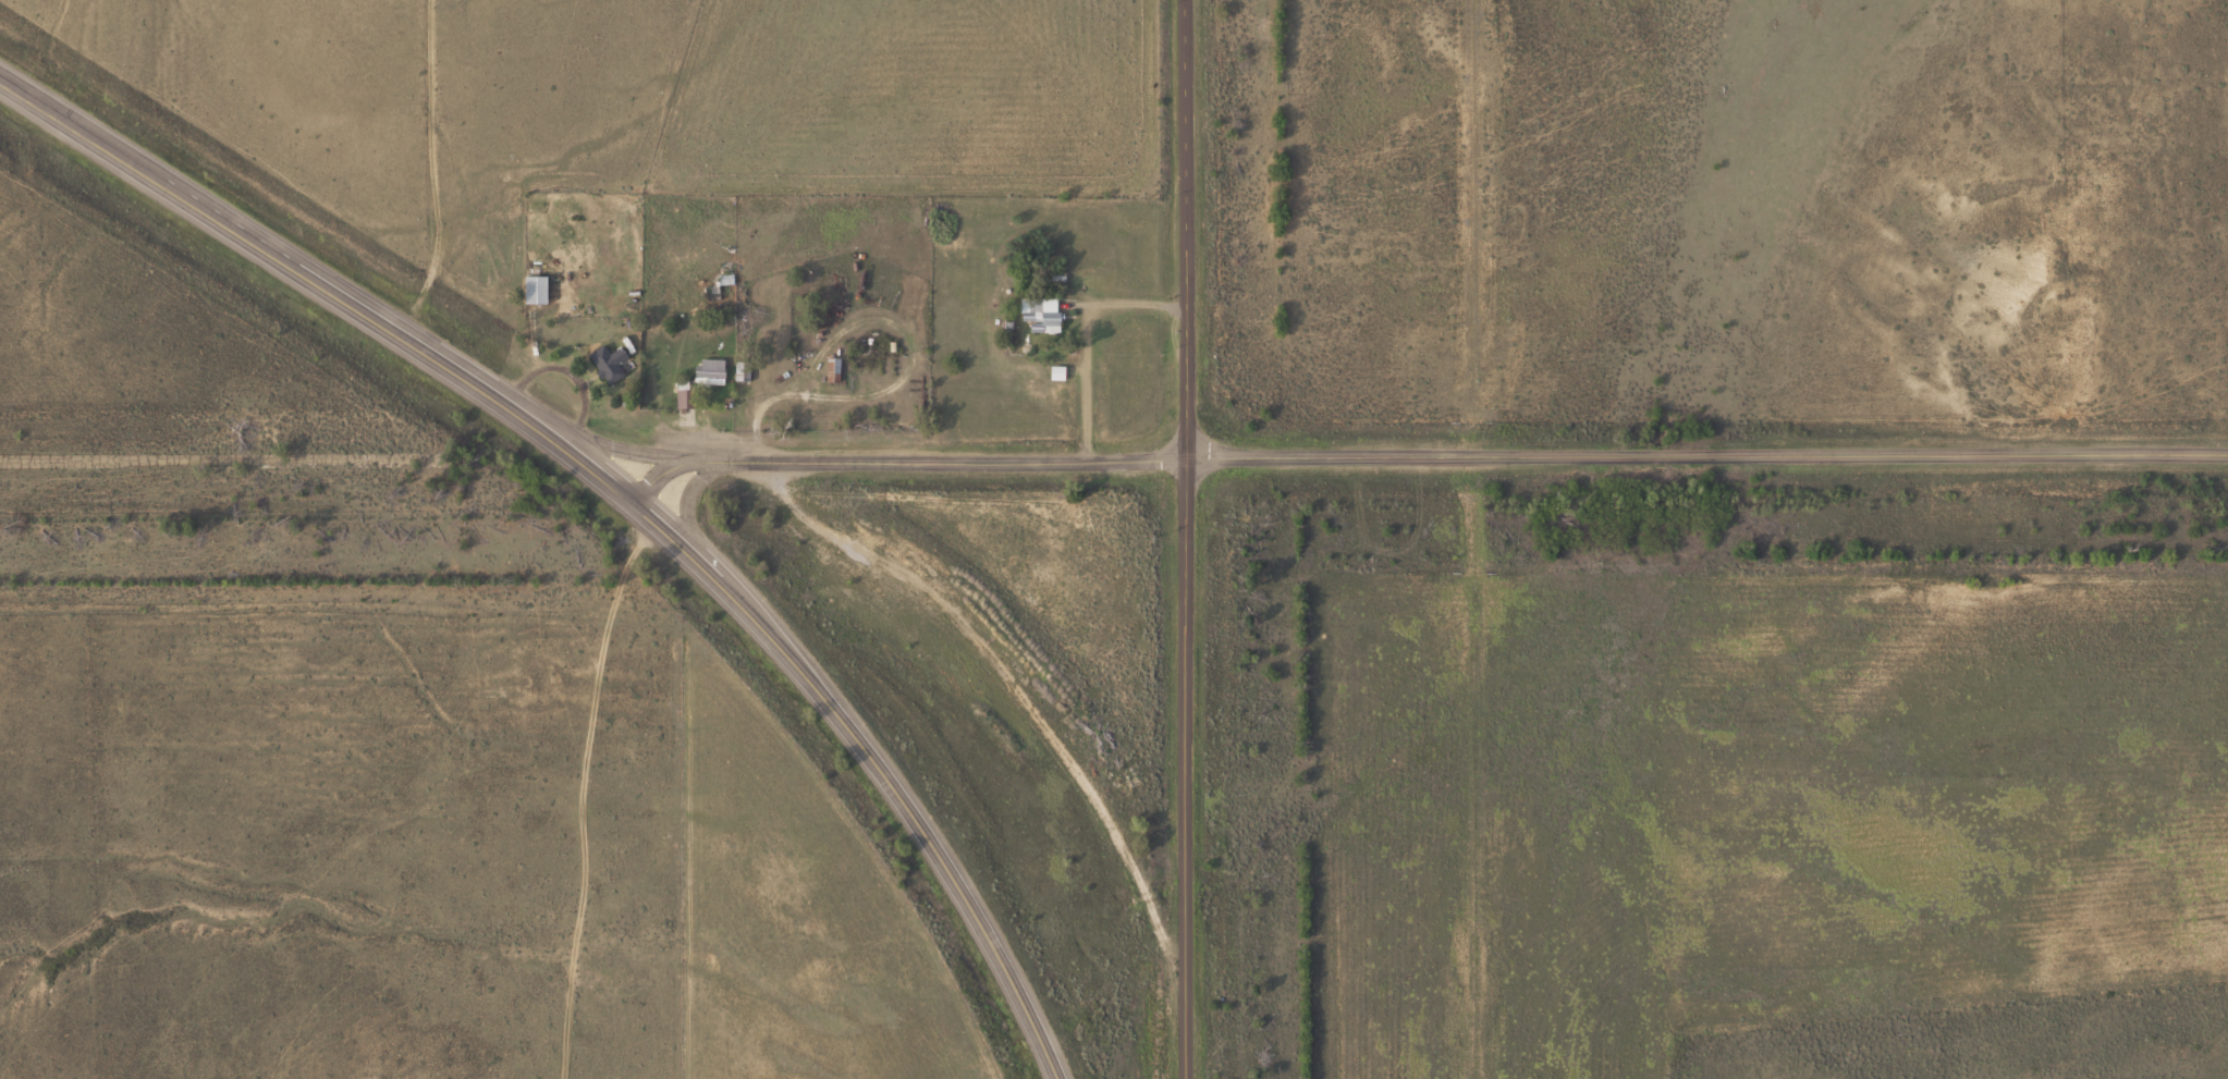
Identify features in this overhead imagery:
building: (540, 289)
building: (1046, 309)
building: (613, 363)
building: (713, 368)
building: (838, 369)
building: (747, 371)
road: (600, 444)
road: (1460, 464)
road: (658, 475)
road: (616, 492)
road: (691, 499)
road: (1186, 539)

